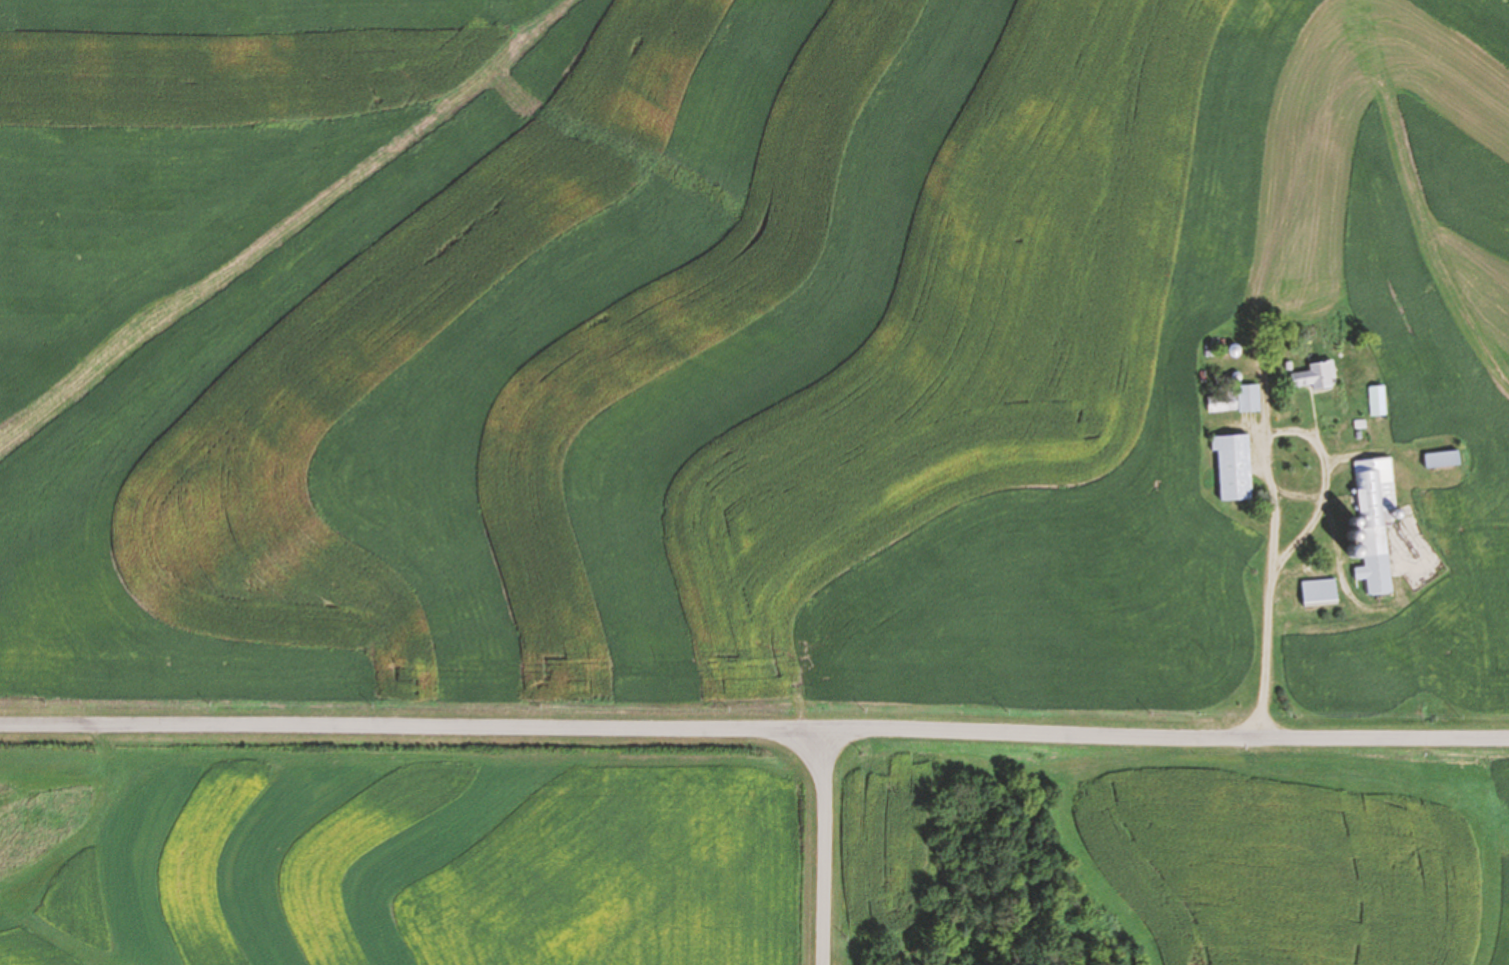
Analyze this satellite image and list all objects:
building: (1315, 376)
building: (1237, 400)
building: (1378, 400)
road: (1262, 458)
building: (1443, 459)
building: (1234, 466)
road: (1298, 492)
building: (1376, 521)
road: (1299, 535)
building: (1320, 590)
road: (754, 725)
road: (826, 845)

